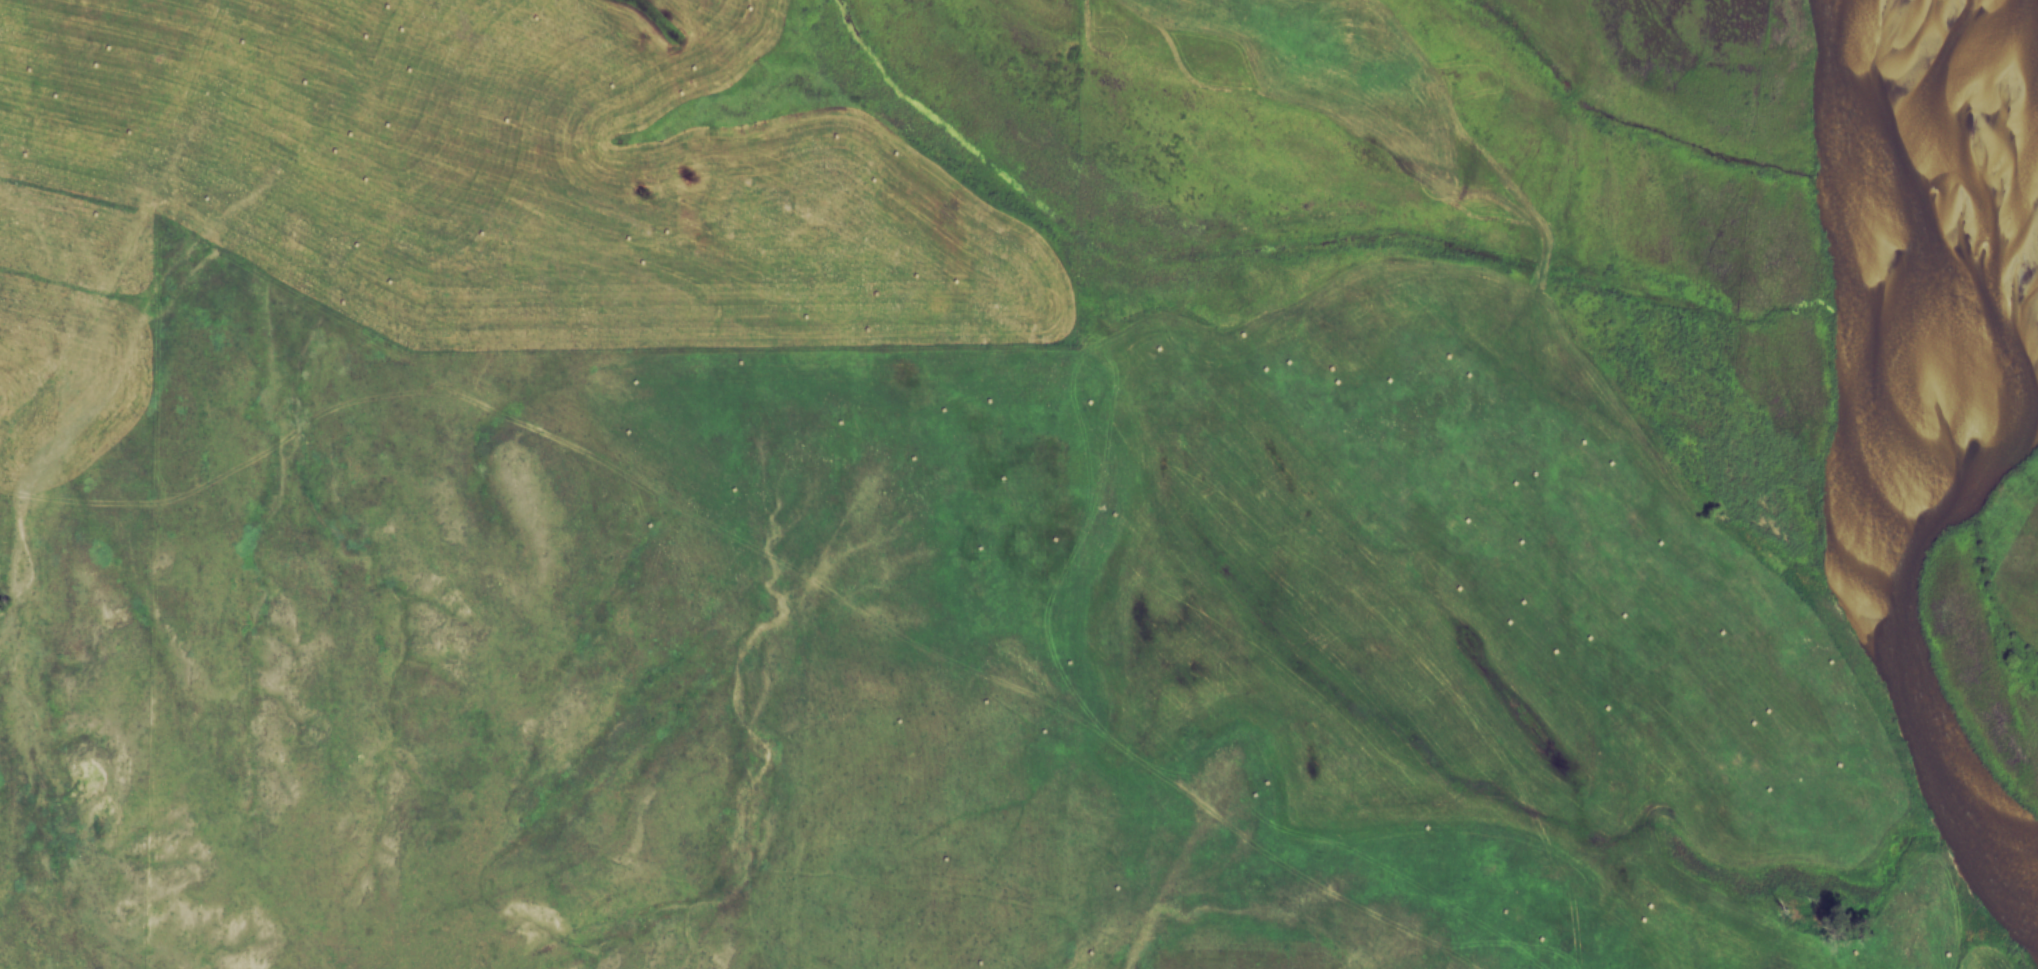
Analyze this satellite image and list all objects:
river: (1900, 443)

